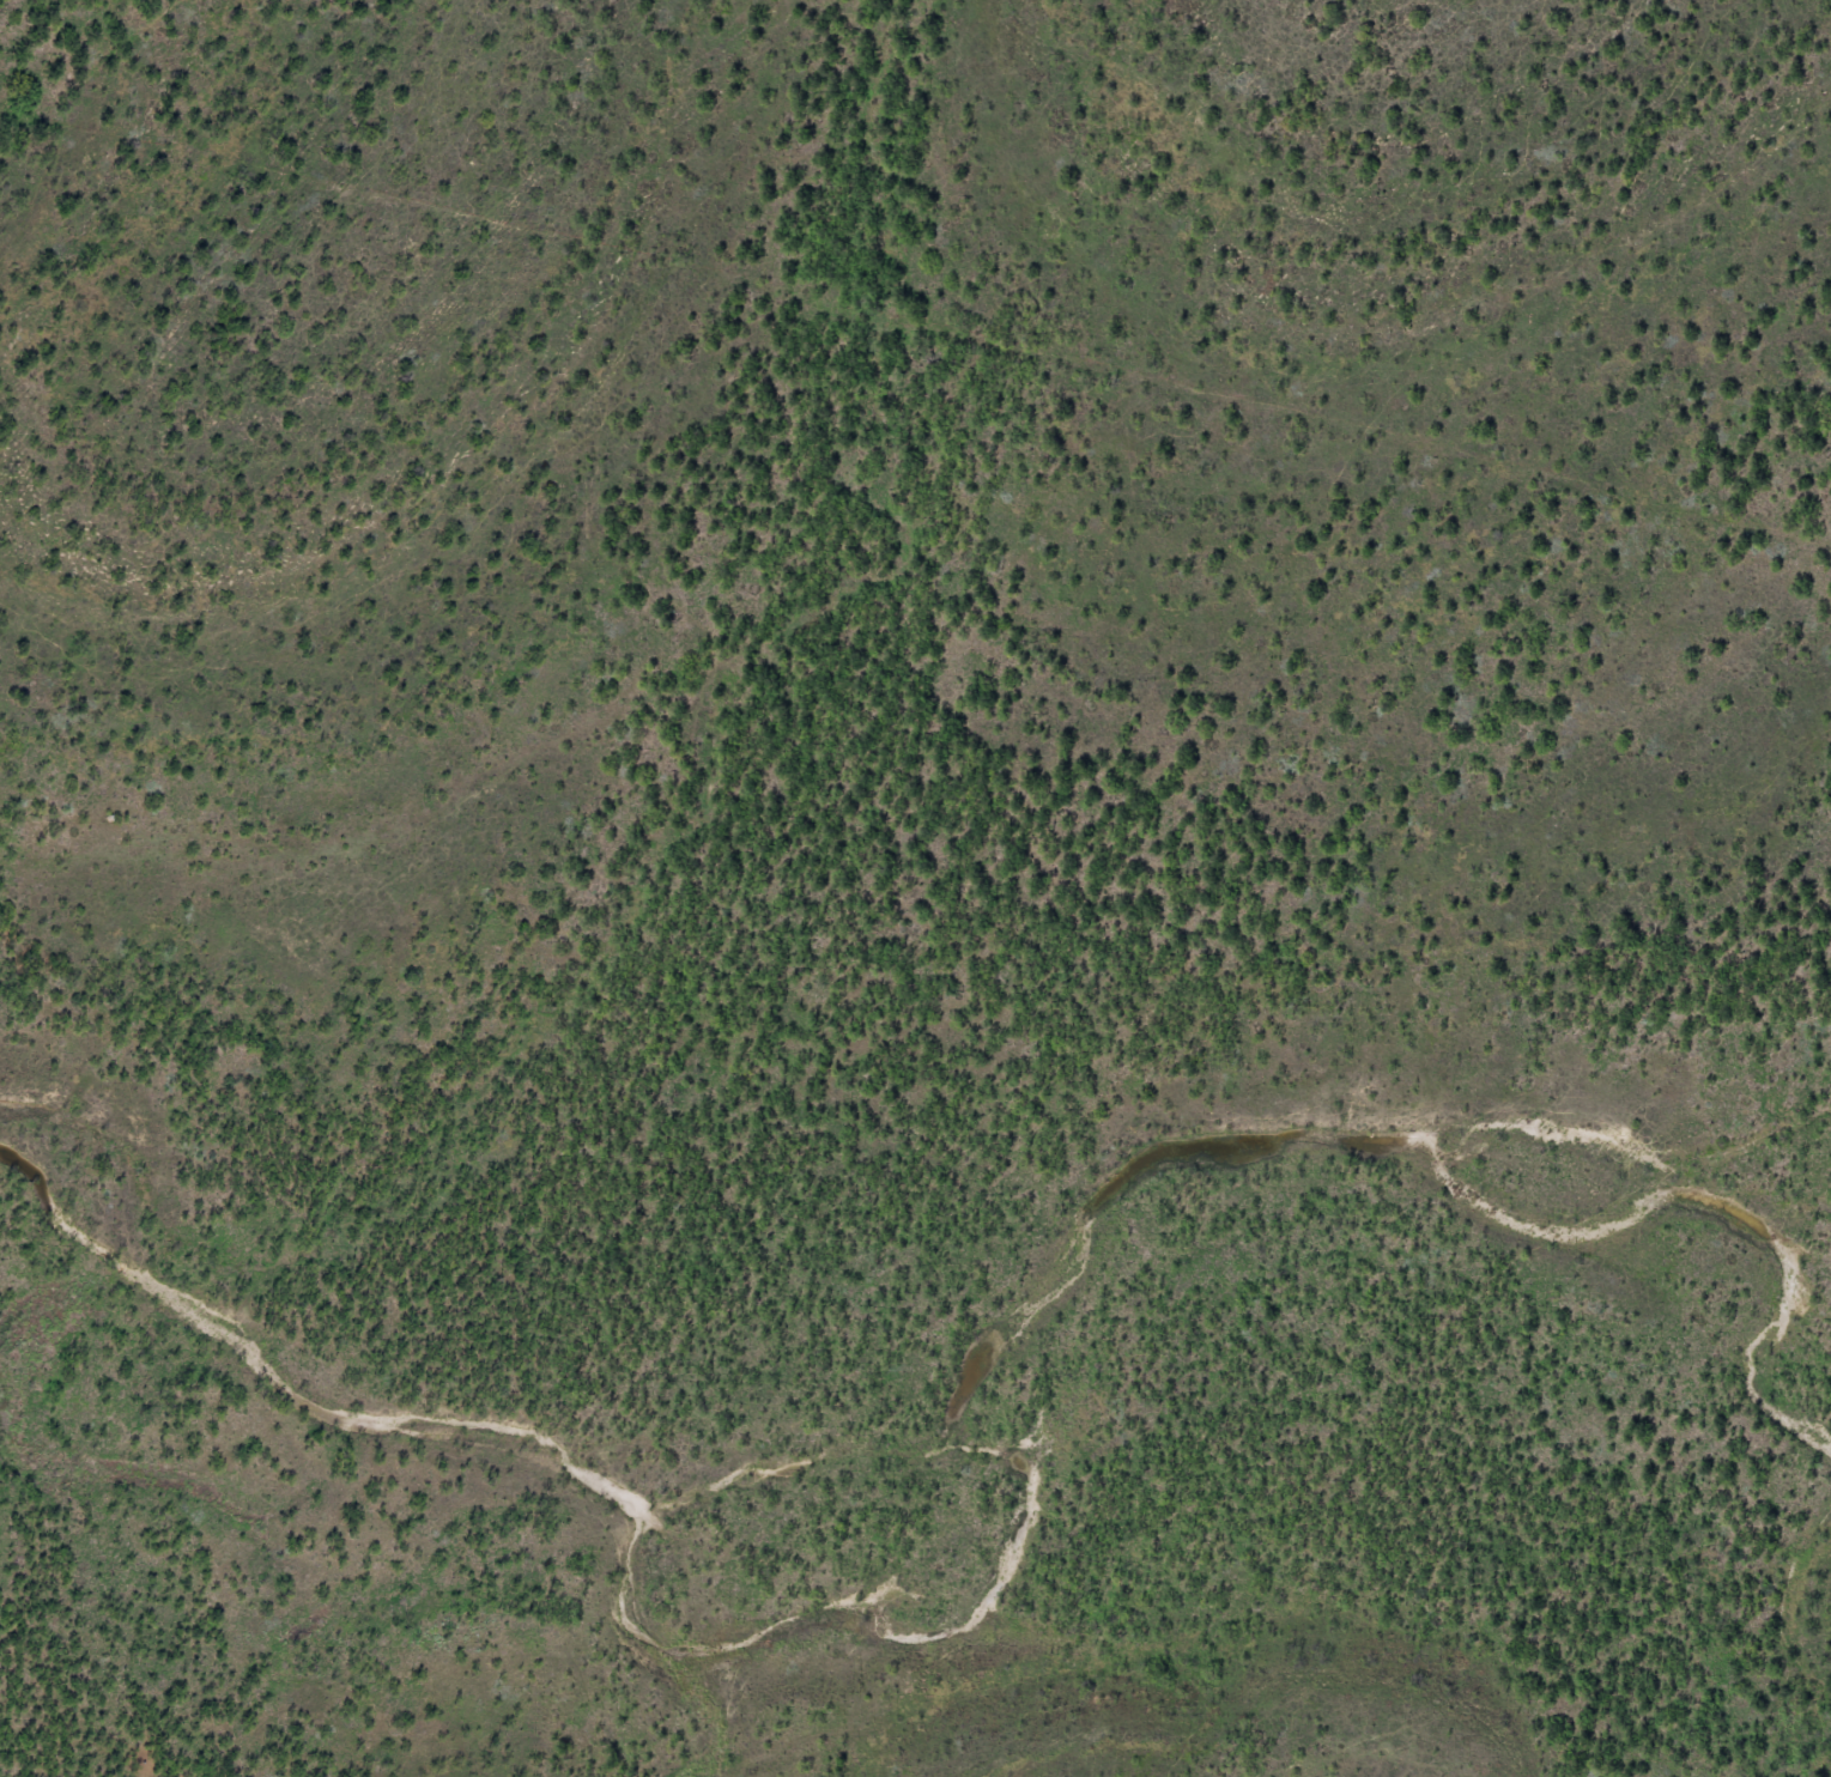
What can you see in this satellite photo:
road: (1208, 1627)

